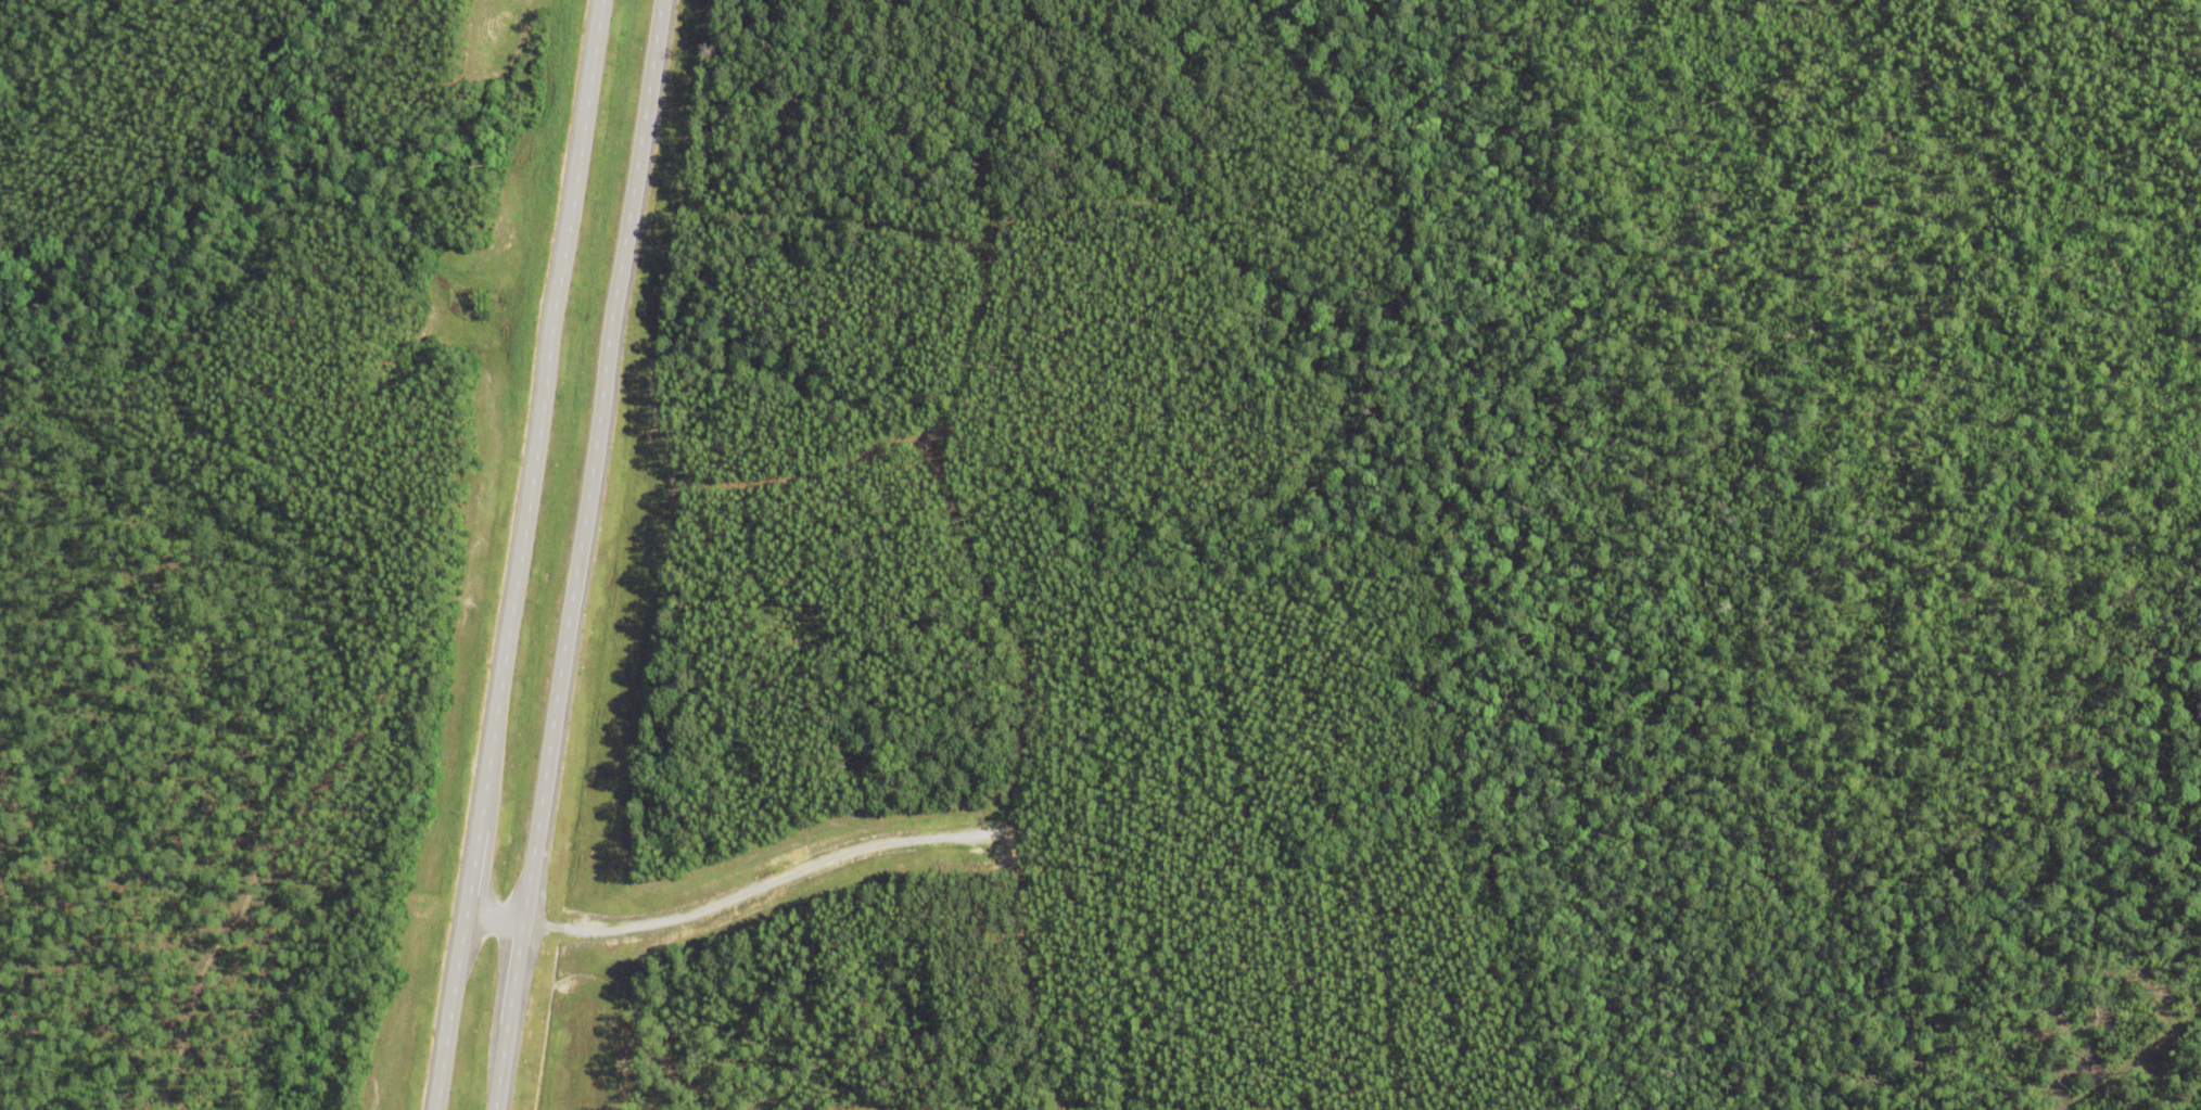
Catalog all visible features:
road: (522, 554)
road: (582, 554)
road: (1013, 806)

